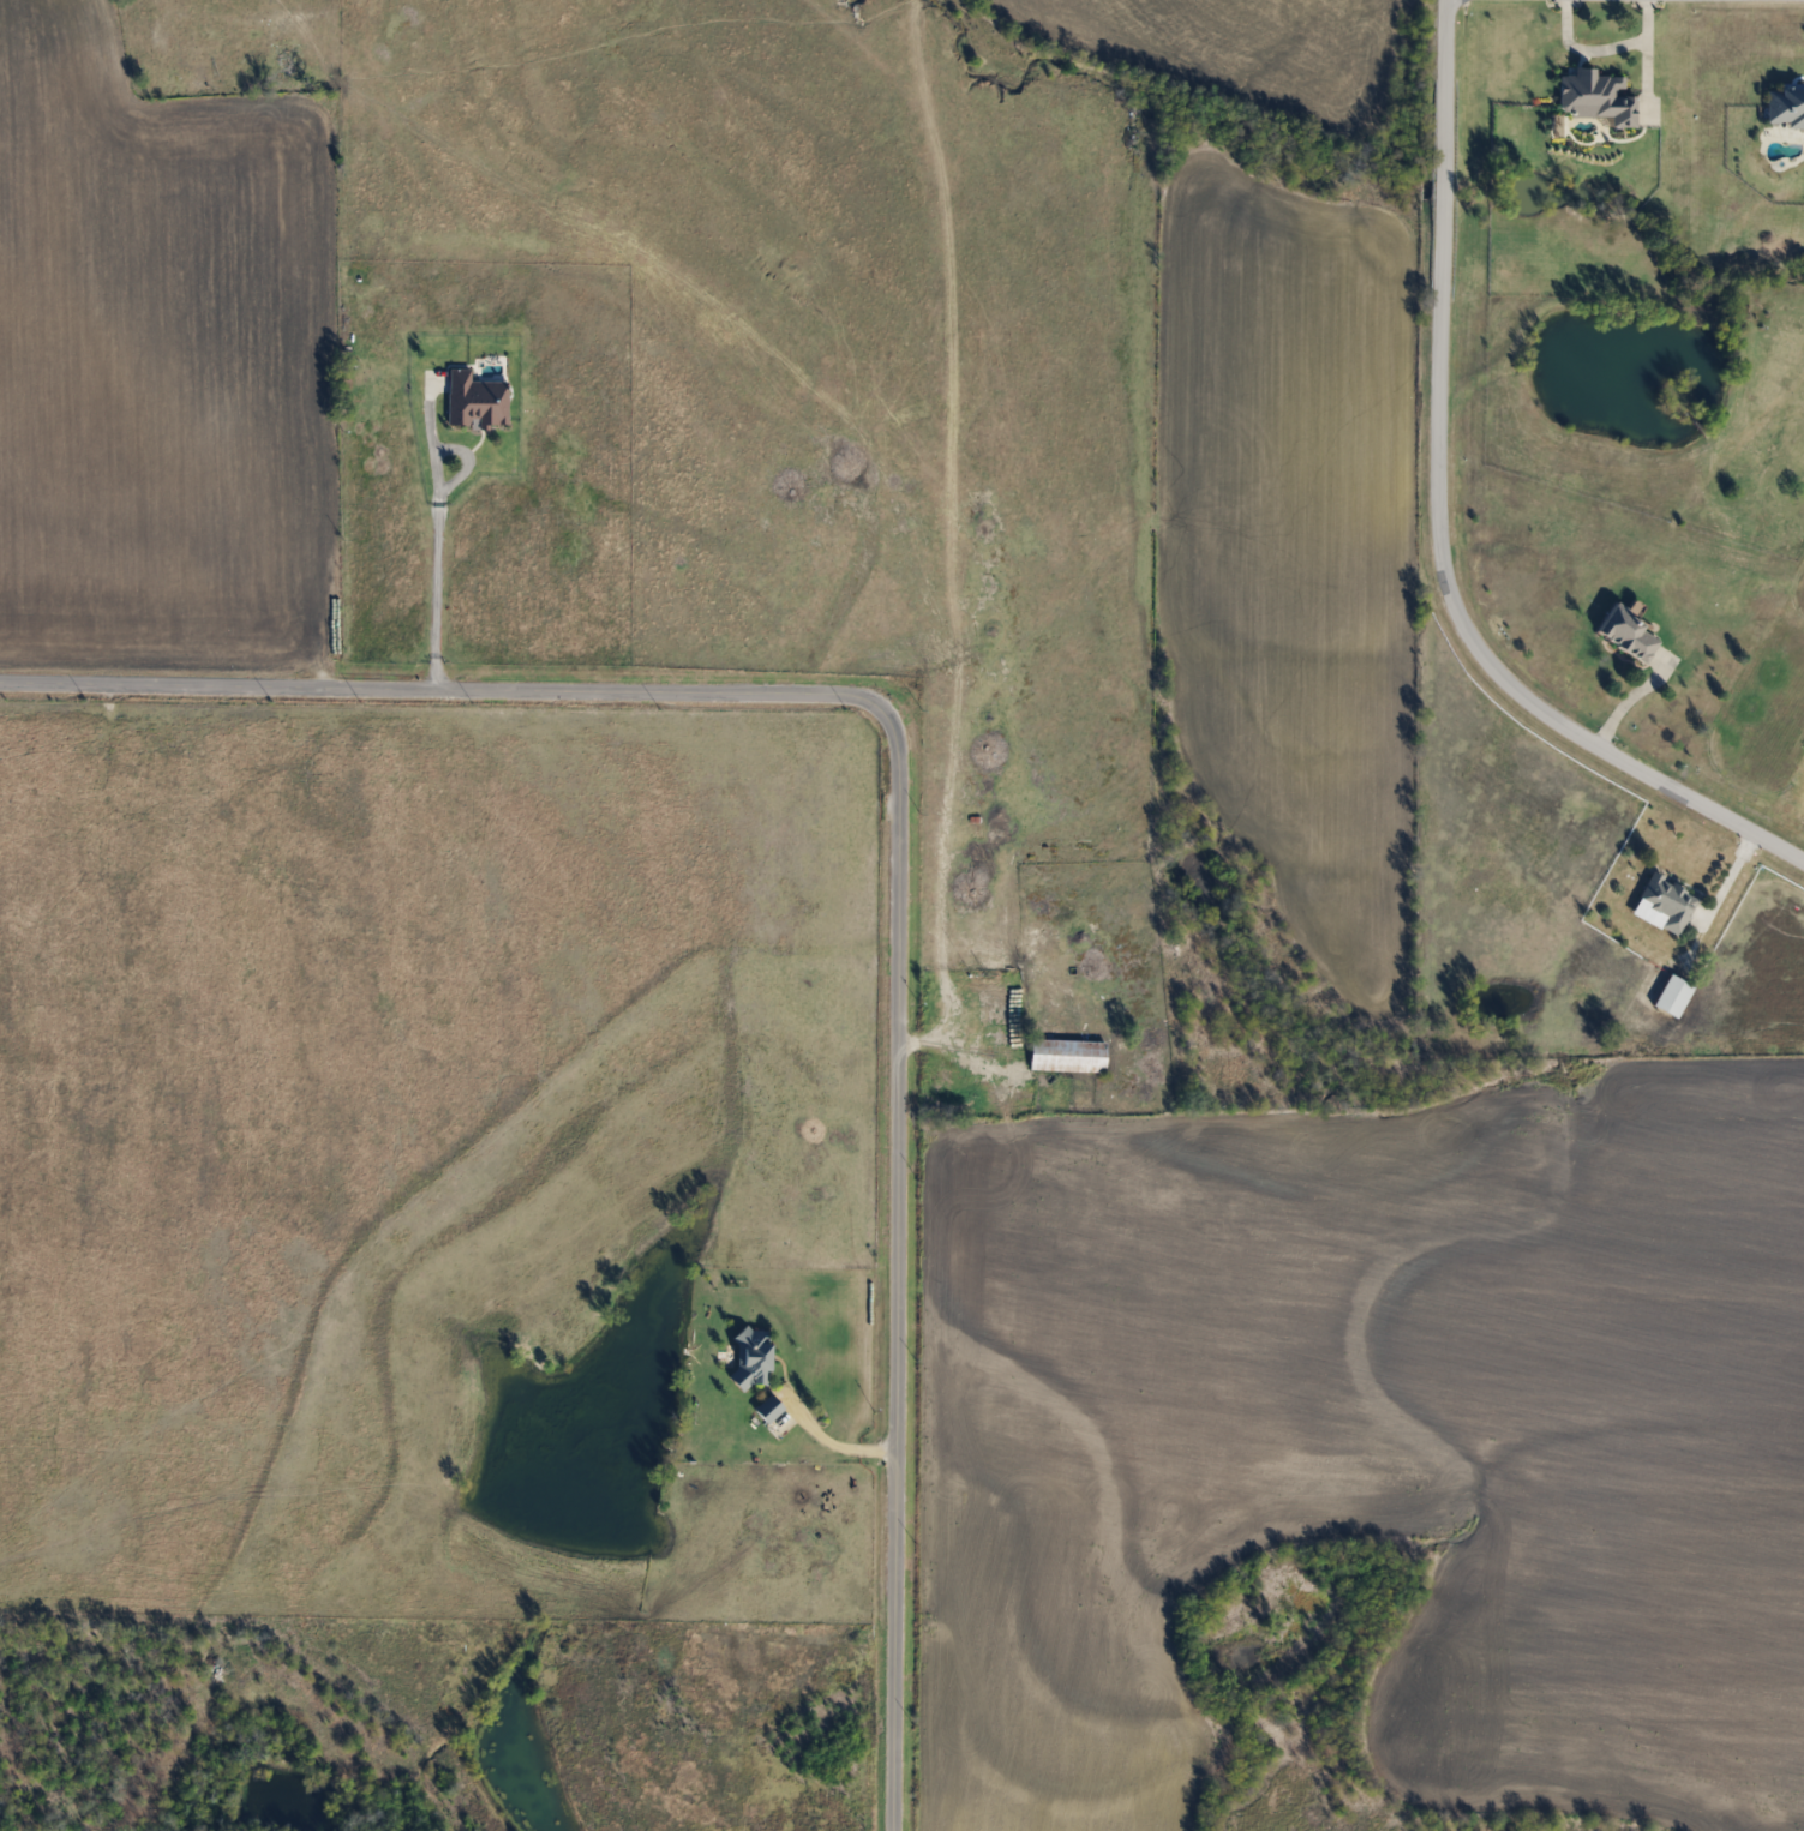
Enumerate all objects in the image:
crop: (1223, 44)
road: (1602, 48)
building: (1594, 95)
building: (1784, 104)
building: (474, 398)
road: (1444, 512)
road: (442, 600)
building: (1626, 634)
road: (903, 821)
road: (1734, 869)
building: (1664, 902)
building: (1671, 995)
building: (1066, 1055)
building: (749, 1356)
building: (766, 1409)
road: (833, 1446)

